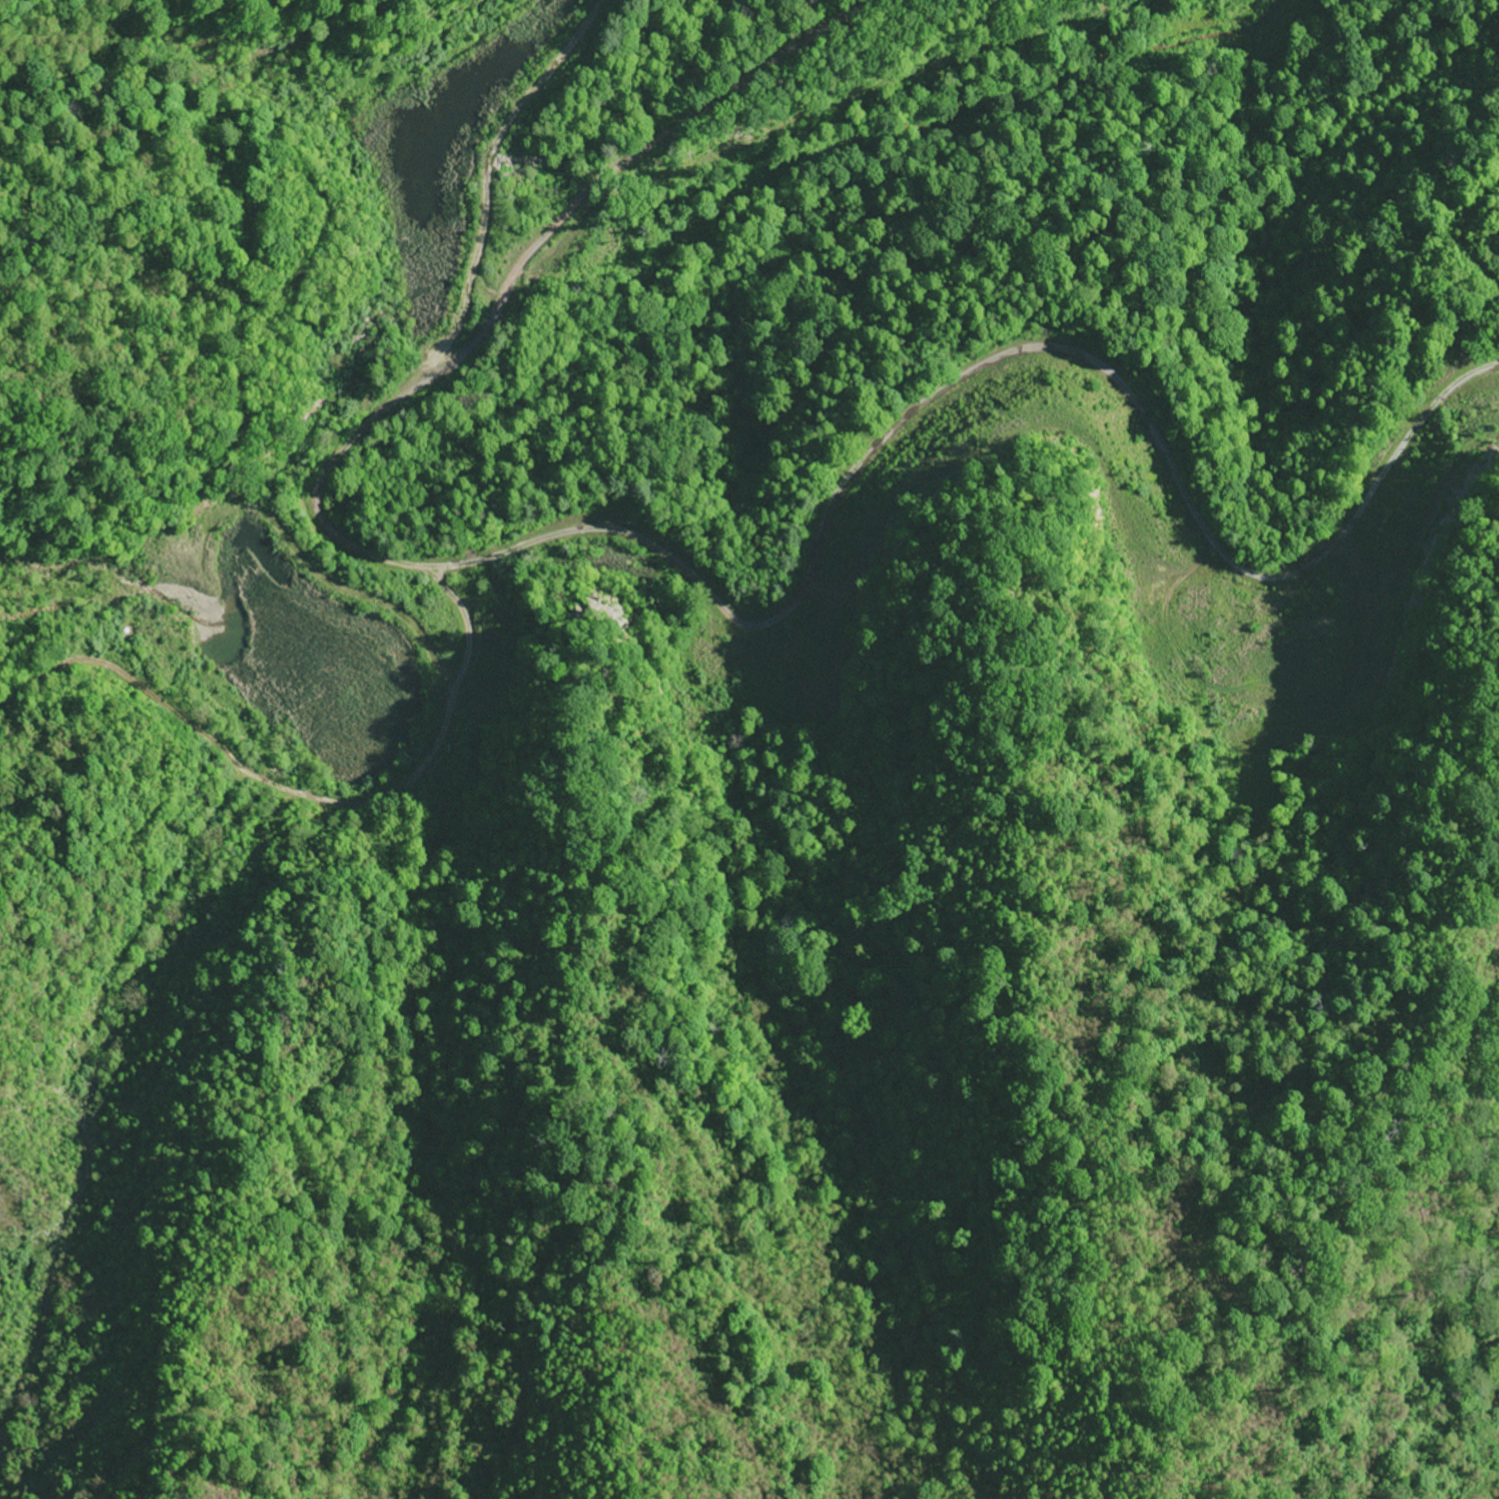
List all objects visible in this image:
road: (693, 565)

